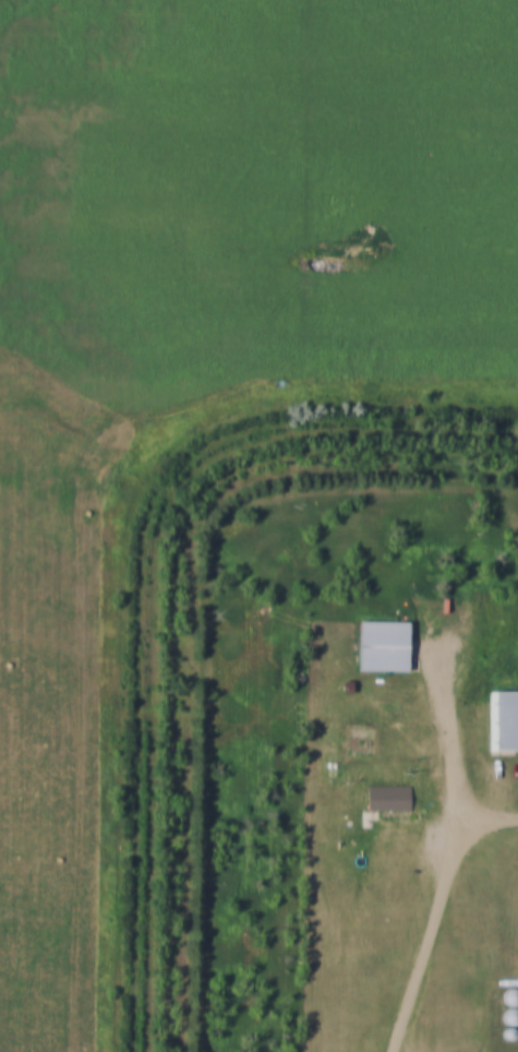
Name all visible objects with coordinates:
building: (384, 637)
building: (505, 715)
building: (389, 790)
road: (483, 834)
road: (447, 869)
building: (511, 990)
silo: (511, 990)
building: (511, 1009)
silo: (511, 1009)
building: (509, 1026)
silo: (509, 1026)

